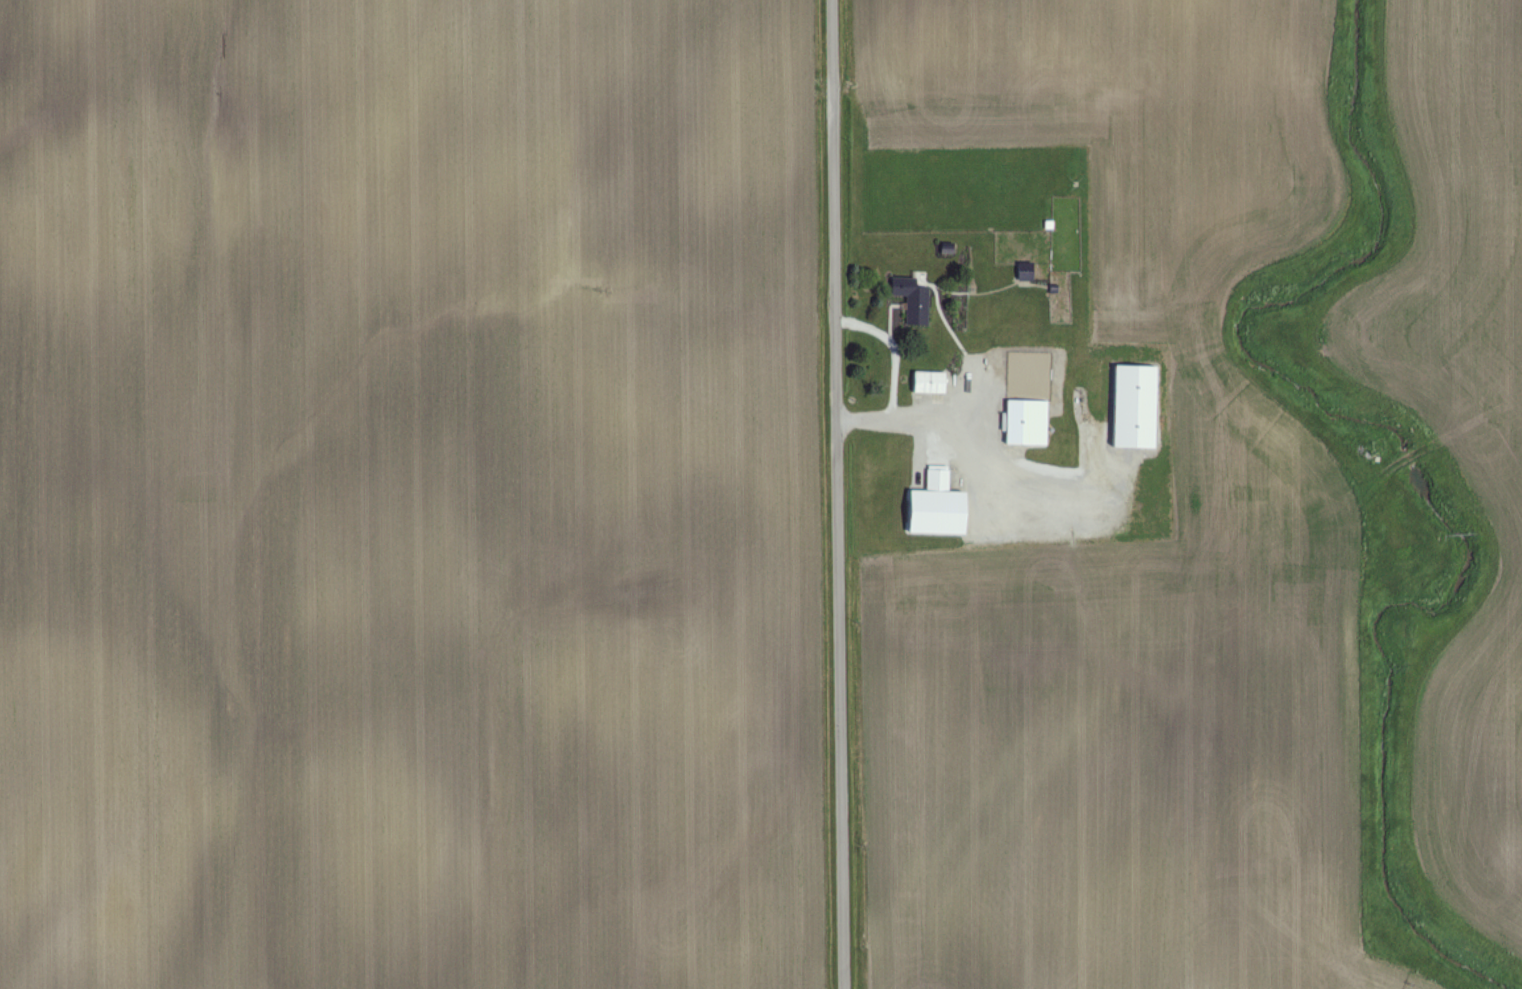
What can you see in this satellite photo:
building: (1022, 272)
building: (915, 307)
road: (894, 350)
building: (926, 383)
building: (1131, 407)
building: (1024, 423)
road: (980, 469)
road: (837, 494)
building: (932, 508)

